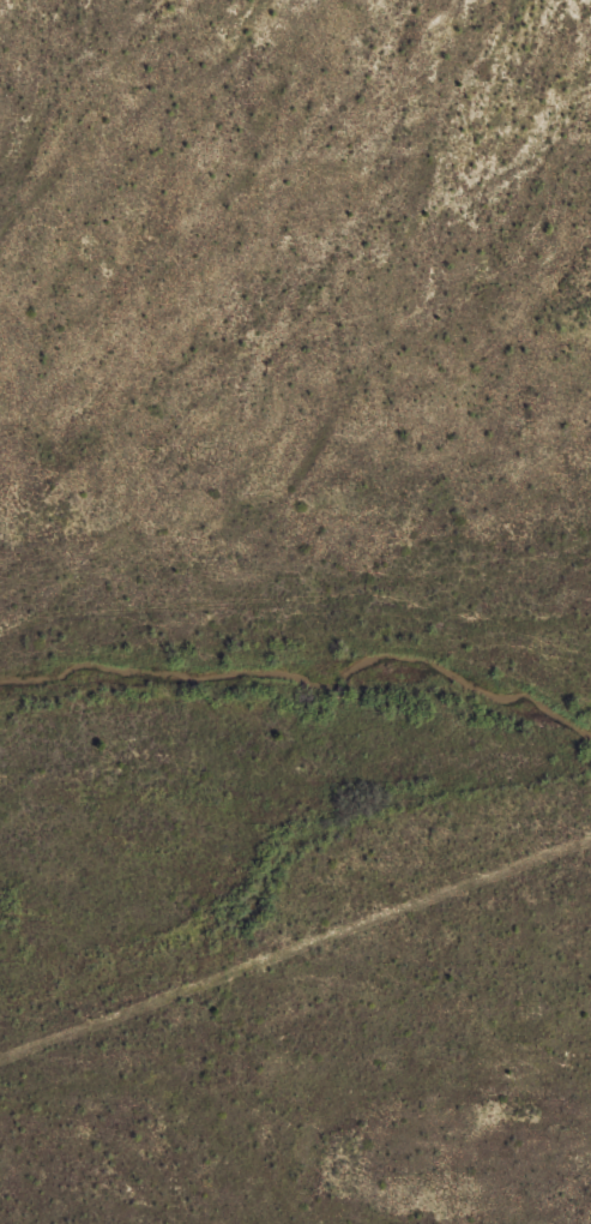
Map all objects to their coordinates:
river: (301, 671)

